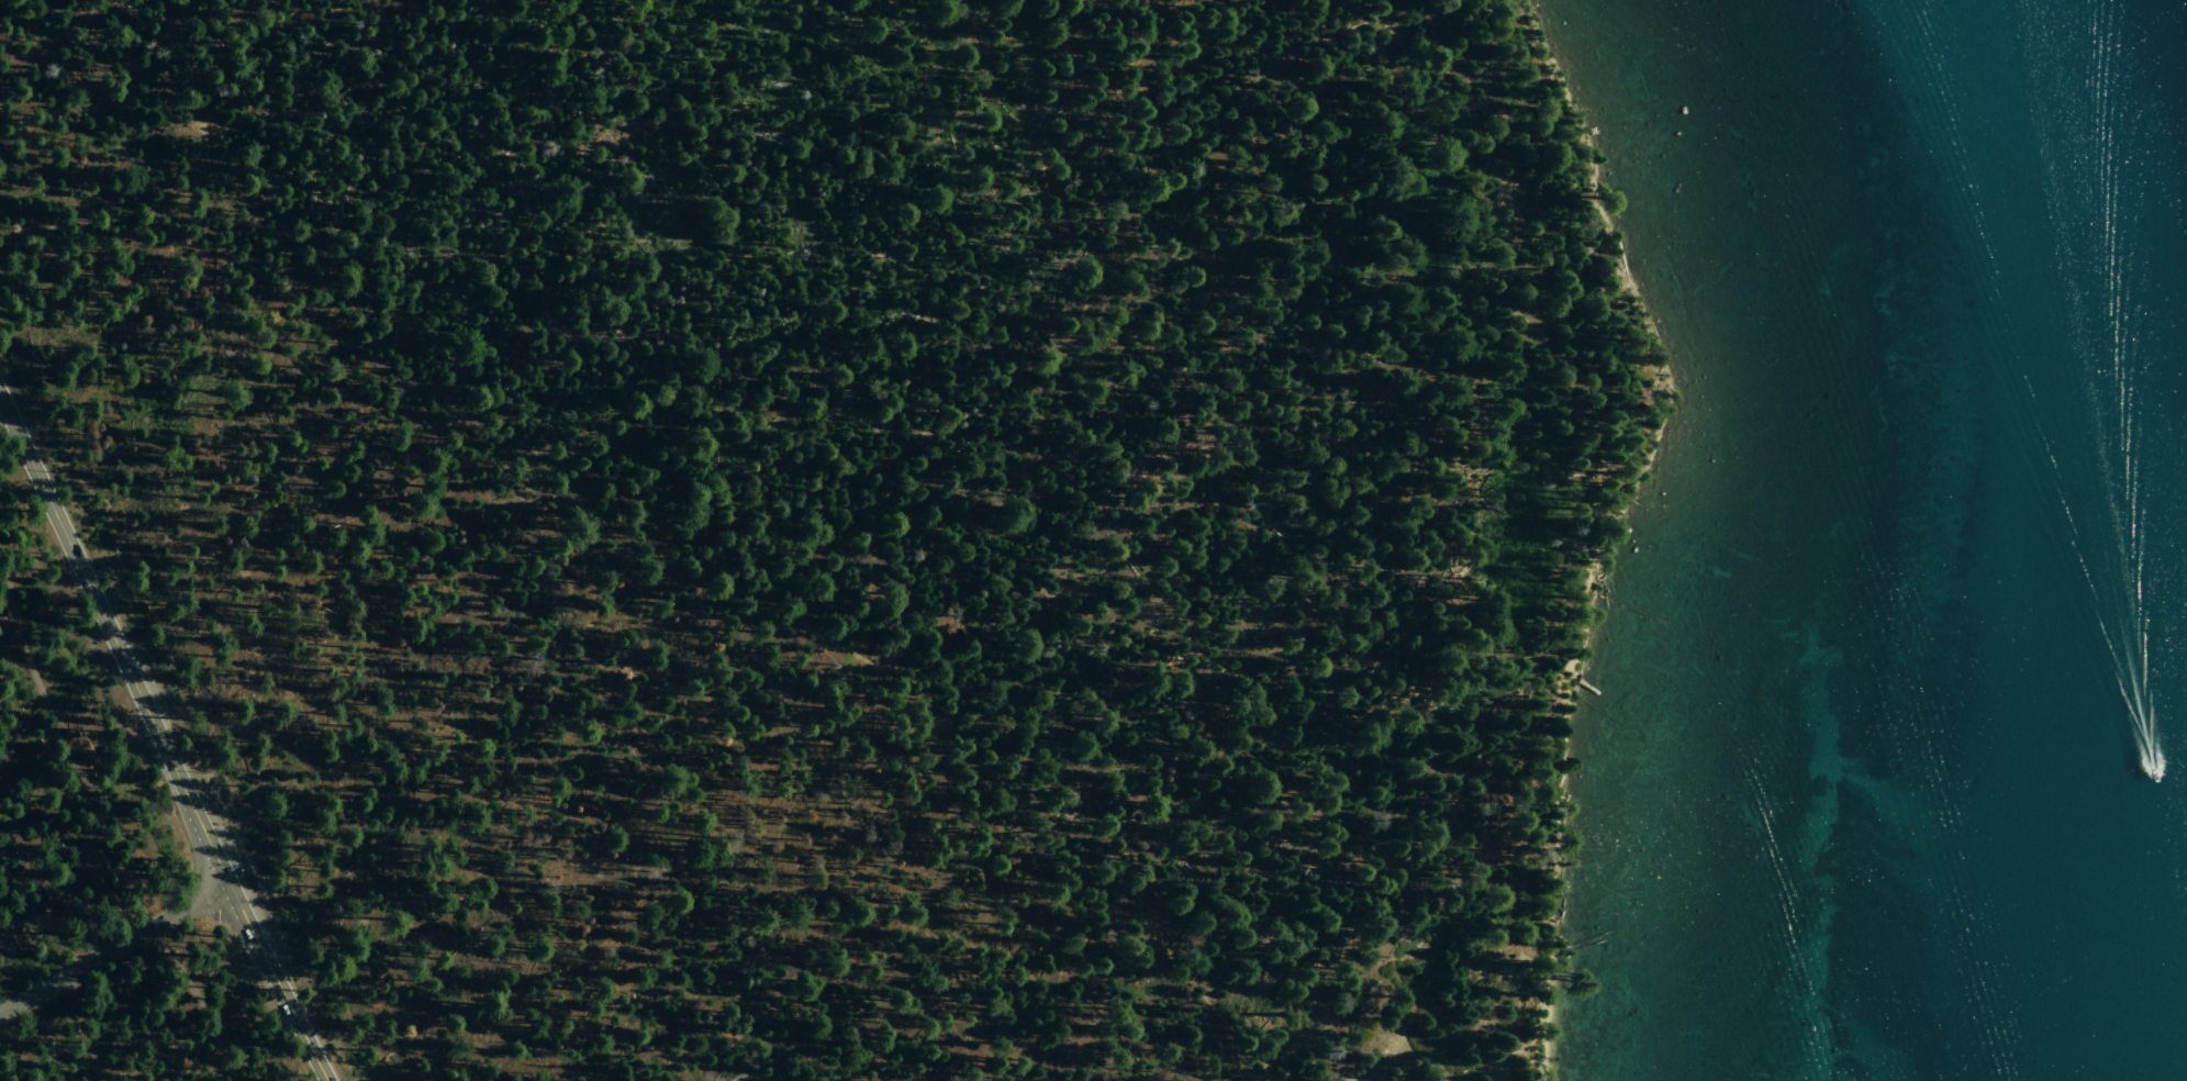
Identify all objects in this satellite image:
road: (134, 68)
road: (634, 508)
road: (1584, 526)
road: (100, 612)
road: (109, 823)
road: (115, 949)
road: (261, 952)

